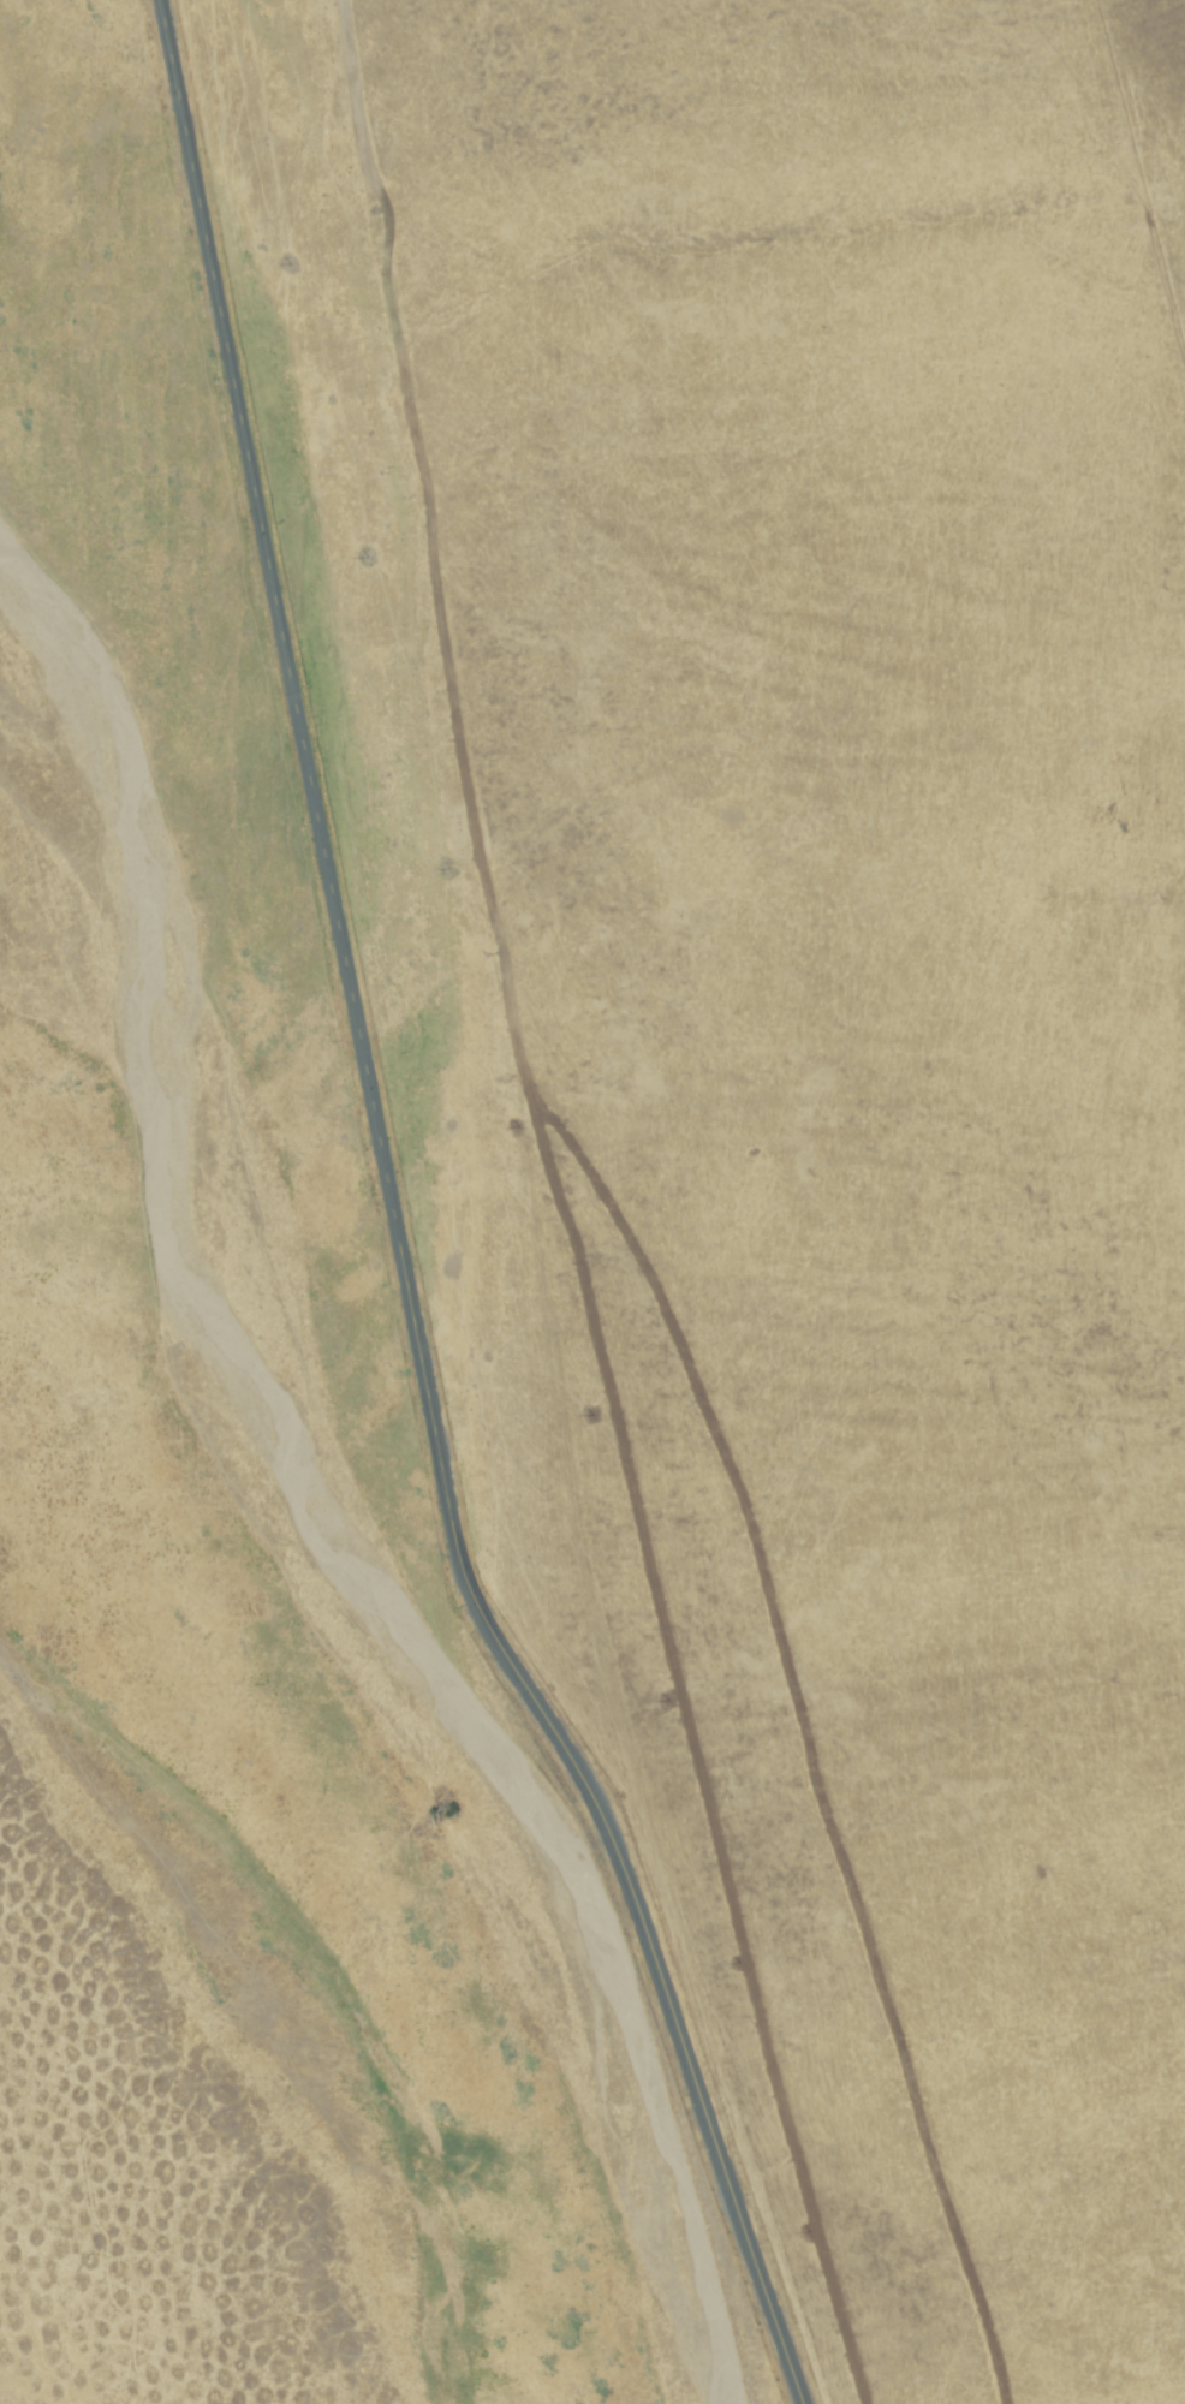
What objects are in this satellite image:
road: (395, 1228)
crop: (512, 1238)
crop: (141, 2153)

